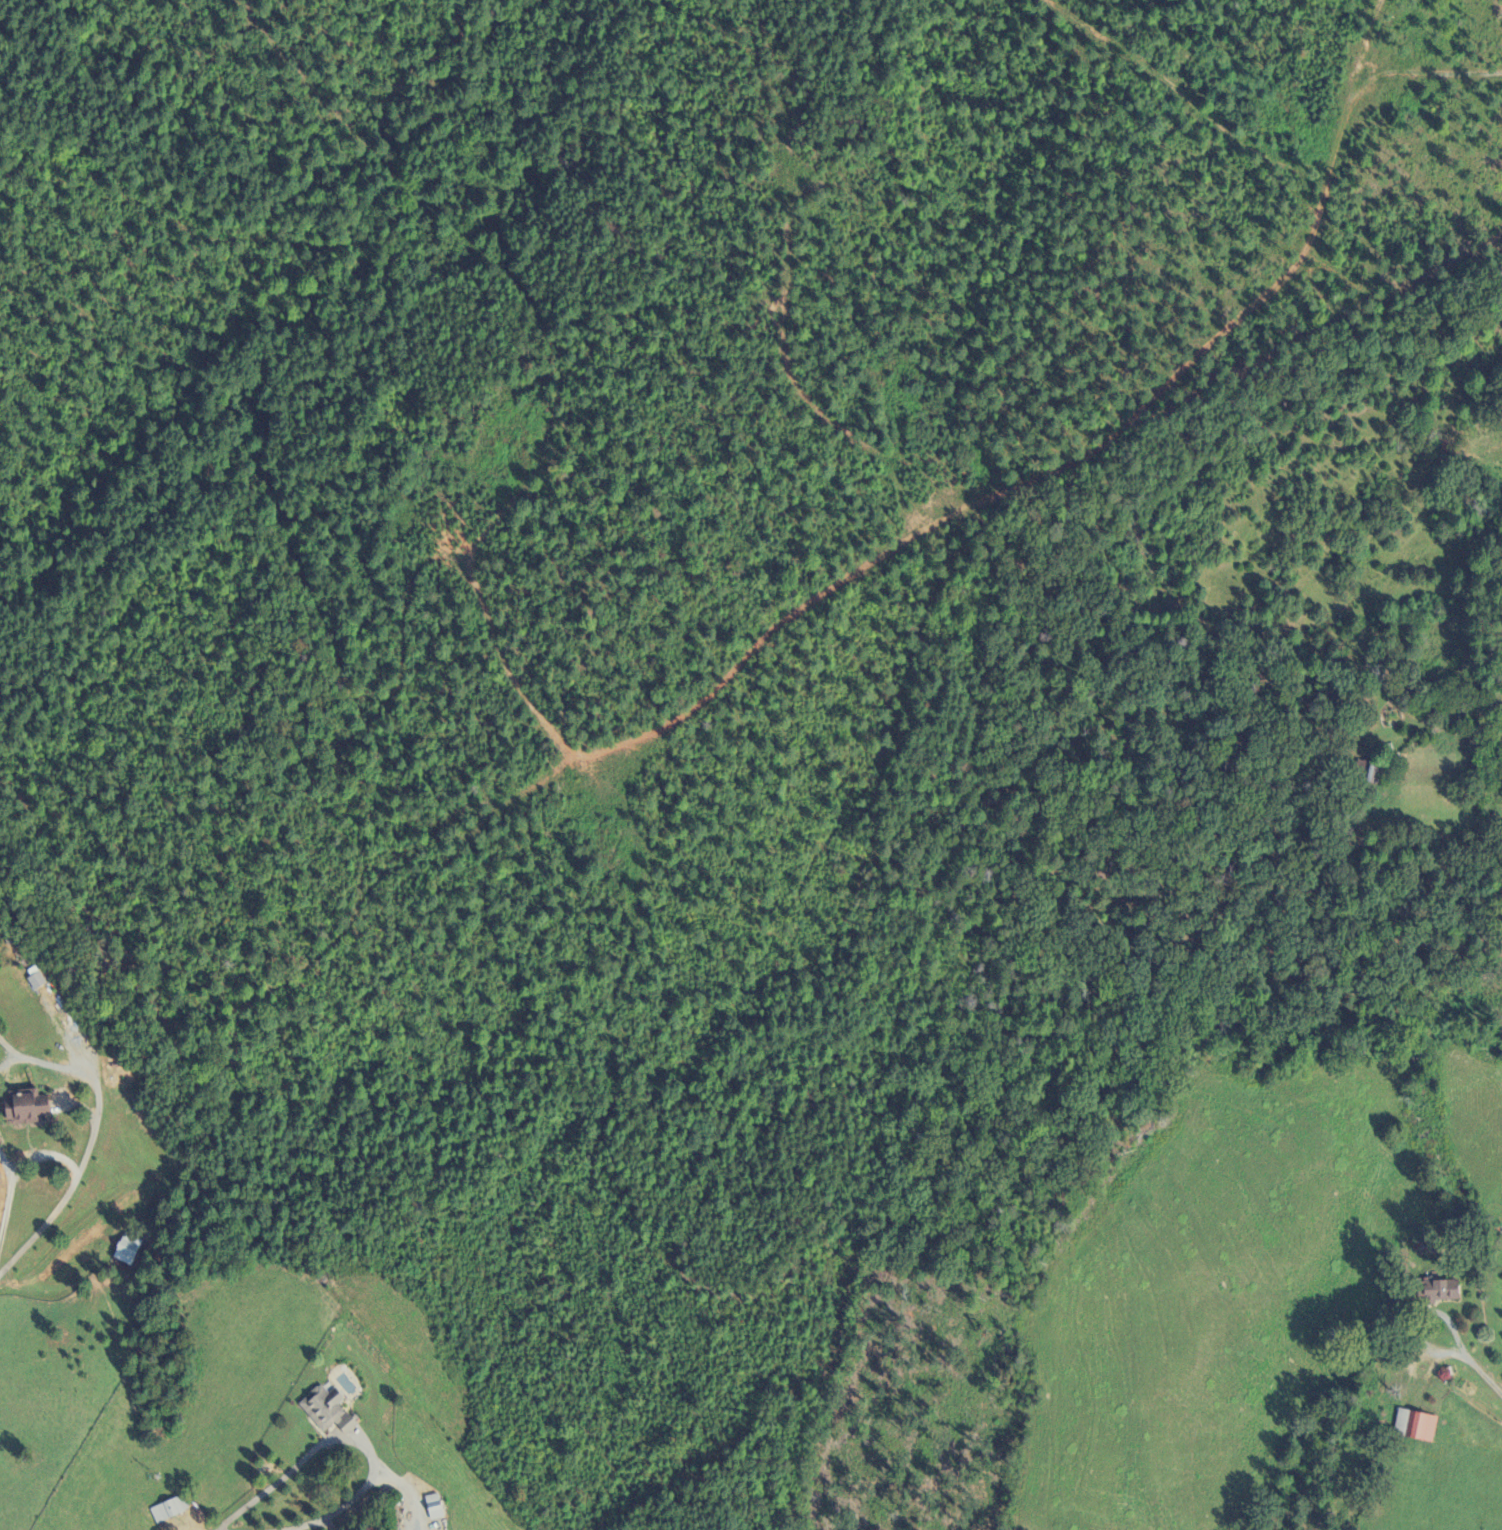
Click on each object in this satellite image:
building: (40, 980)
road: (6, 1049)
road: (85, 1062)
road: (45, 1063)
building: (30, 1108)
road: (8, 1165)
road: (16, 1176)
road: (58, 1210)
building: (130, 1249)
building: (1452, 1290)
road: (1460, 1355)
building: (332, 1408)
building: (1419, 1424)
road: (330, 1441)
road: (353, 1498)
building: (438, 1506)
building: (171, 1509)
road: (324, 1526)
road: (306, 1527)

